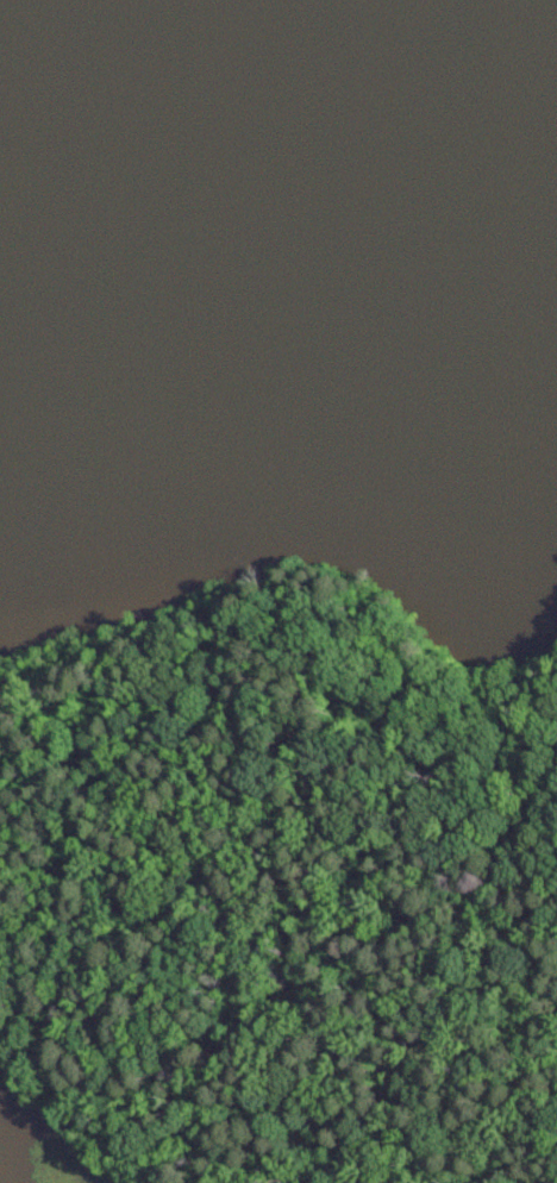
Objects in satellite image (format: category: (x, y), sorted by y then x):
road: (292, 730)
park: (286, 899)
road: (280, 1071)

